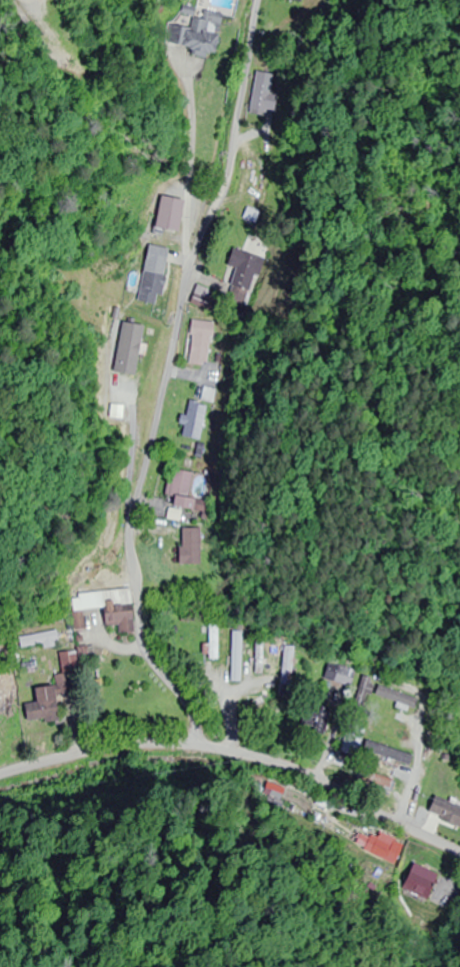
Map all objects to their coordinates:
building: (294, 1)
building: (195, 35)
building: (166, 214)
building: (150, 275)
building: (243, 276)
building: (198, 344)
road: (170, 383)
building: (210, 395)
building: (193, 425)
building: (178, 490)
building: (188, 547)
building: (104, 609)
building: (36, 641)
building: (212, 642)
building: (235, 657)
building: (258, 657)
building: (287, 668)
building: (339, 675)
building: (66, 676)
building: (397, 697)
building: (40, 706)
building: (393, 725)
building: (385, 752)
road: (242, 777)
building: (441, 813)

